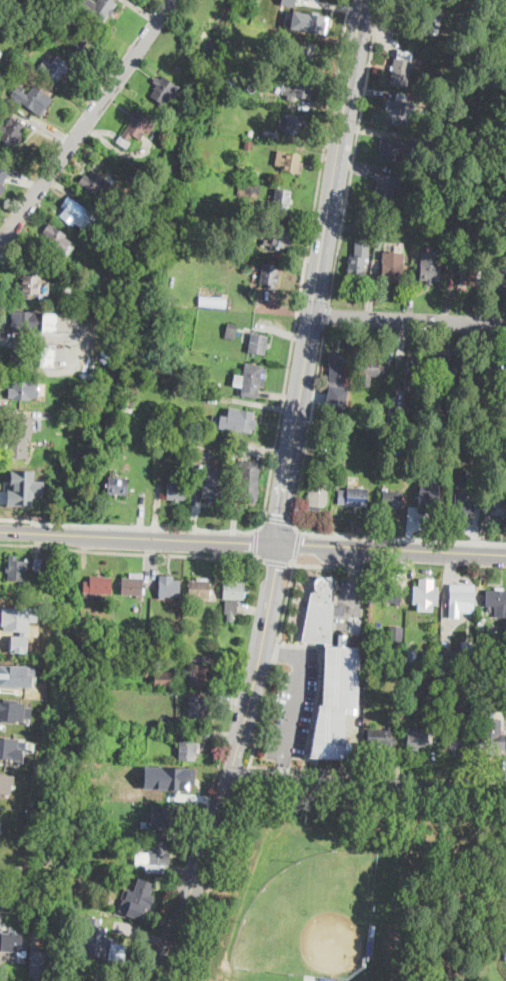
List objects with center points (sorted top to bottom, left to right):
building: (298, 0)
building: (288, 2)
building: (97, 8)
building: (280, 14)
building: (432, 15)
building: (315, 20)
park: (191, 35)
building: (80, 38)
building: (305, 53)
building: (20, 63)
building: (52, 66)
building: (401, 68)
building: (13, 72)
building: (299, 87)
building: (163, 89)
building: (31, 97)
building: (398, 110)
road: (86, 122)
building: (298, 125)
building: (135, 128)
building: (12, 132)
building: (251, 134)
building: (271, 135)
building: (249, 143)
building: (396, 149)
building: (107, 150)
road: (354, 151)
building: (289, 161)
building: (499, 168)
building: (242, 169)
building: (432, 177)
building: (2, 181)
building: (96, 184)
building: (386, 186)
building: (498, 188)
building: (250, 190)
building: (282, 199)
building: (75, 212)
building: (500, 222)
building: (478, 224)
building: (56, 238)
building: (280, 238)
building: (226, 242)
building: (359, 257)
building: (392, 266)
building: (430, 267)
building: (268, 272)
road: (320, 272)
building: (469, 275)
building: (499, 277)
building: (31, 281)
road: (12, 294)
building: (169, 298)
building: (80, 302)
road: (327, 315)
road: (409, 319)
building: (49, 321)
building: (26, 322)
building: (231, 331)
building: (22, 340)
building: (258, 344)
building: (46, 355)
building: (28, 358)
building: (340, 368)
building: (371, 370)
building: (414, 372)
building: (449, 373)
building: (489, 375)
building: (250, 379)
building: (24, 390)
road: (283, 392)
building: (336, 397)
building: (397, 412)
building: (207, 419)
building: (433, 419)
building: (238, 420)
road: (308, 429)
building: (20, 438)
building: (333, 452)
building: (344, 462)
building: (249, 480)
building: (117, 485)
building: (23, 486)
building: (211, 489)
building: (176, 491)
building: (317, 495)
building: (429, 496)
building: (354, 497)
building: (464, 497)
building: (392, 499)
building: (499, 505)
building: (412, 509)
road: (277, 518)
road: (402, 536)
road: (139, 537)
road: (257, 542)
road: (297, 543)
road: (391, 550)
road: (132, 551)
road: (275, 560)
road: (358, 562)
building: (37, 564)
road: (317, 564)
building: (17, 568)
building: (133, 584)
building: (97, 586)
building: (170, 588)
building: (199, 588)
building: (233, 590)
building: (388, 593)
building: (425, 593)
road: (286, 597)
parking lot: (350, 598)
building: (460, 600)
building: (497, 601)
road: (357, 603)
building: (175, 609)
building: (231, 609)
building: (321, 610)
building: (395, 632)
building: (445, 642)
building: (415, 645)
building: (466, 645)
road: (282, 649)
building: (495, 650)
road: (276, 652)
building: (462, 660)
building: (147, 671)
building: (493, 673)
building: (16, 674)
building: (205, 675)
building: (163, 679)
building: (147, 683)
building: (337, 700)
parking lot: (292, 704)
road: (294, 704)
building: (13, 710)
building: (197, 710)
road: (262, 715)
building: (168, 721)
building: (443, 721)
building: (494, 731)
building: (381, 737)
building: (417, 737)
building: (457, 740)
building: (492, 741)
building: (11, 747)
building: (185, 749)
road: (261, 765)
road: (231, 766)
road: (282, 766)
road: (326, 768)
road: (283, 769)
building: (166, 777)
road: (245, 777)
building: (5, 781)
road: (366, 783)
building: (164, 818)
building: (0, 825)
building: (154, 857)
road: (209, 884)
road: (15, 891)
park: (356, 893)
building: (140, 897)
park: (311, 916)
building: (95, 937)
building: (15, 946)
building: (117, 950)
building: (39, 962)
building: (3, 973)
building: (92, 980)

